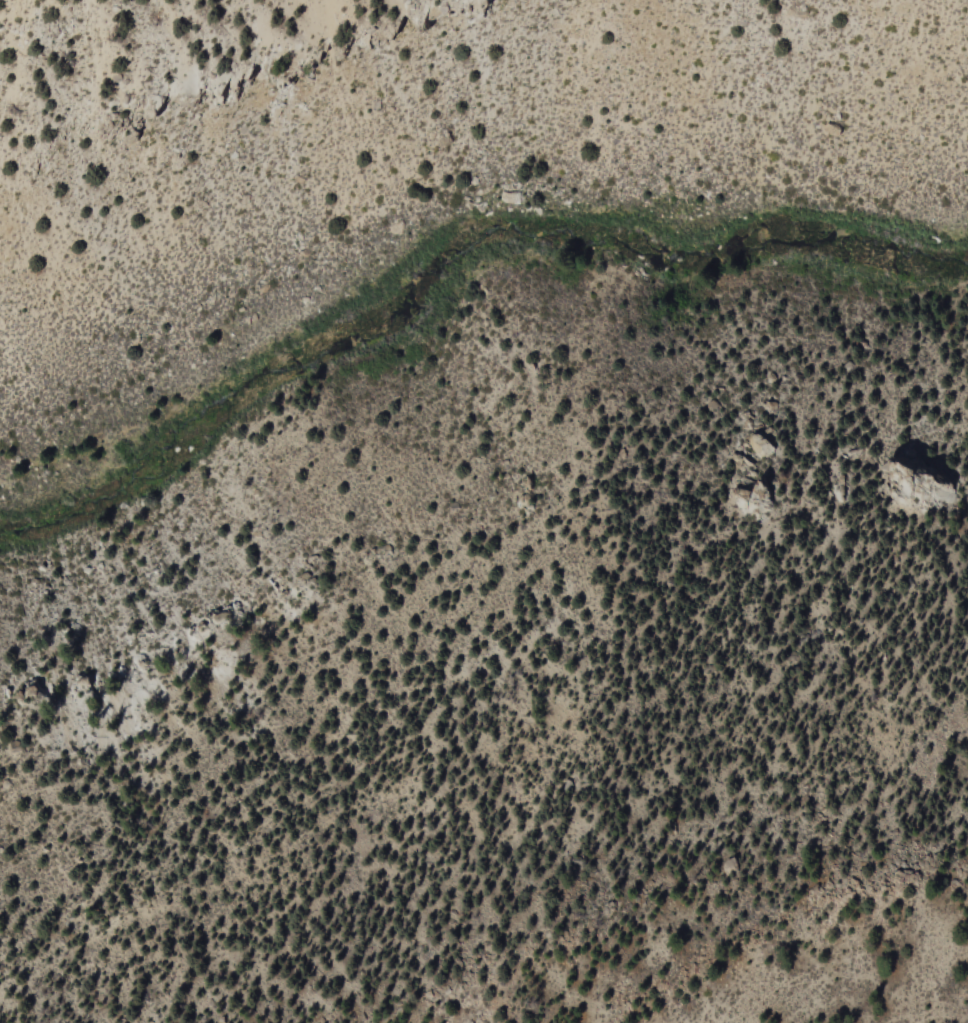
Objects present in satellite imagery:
road: (386, 778)

